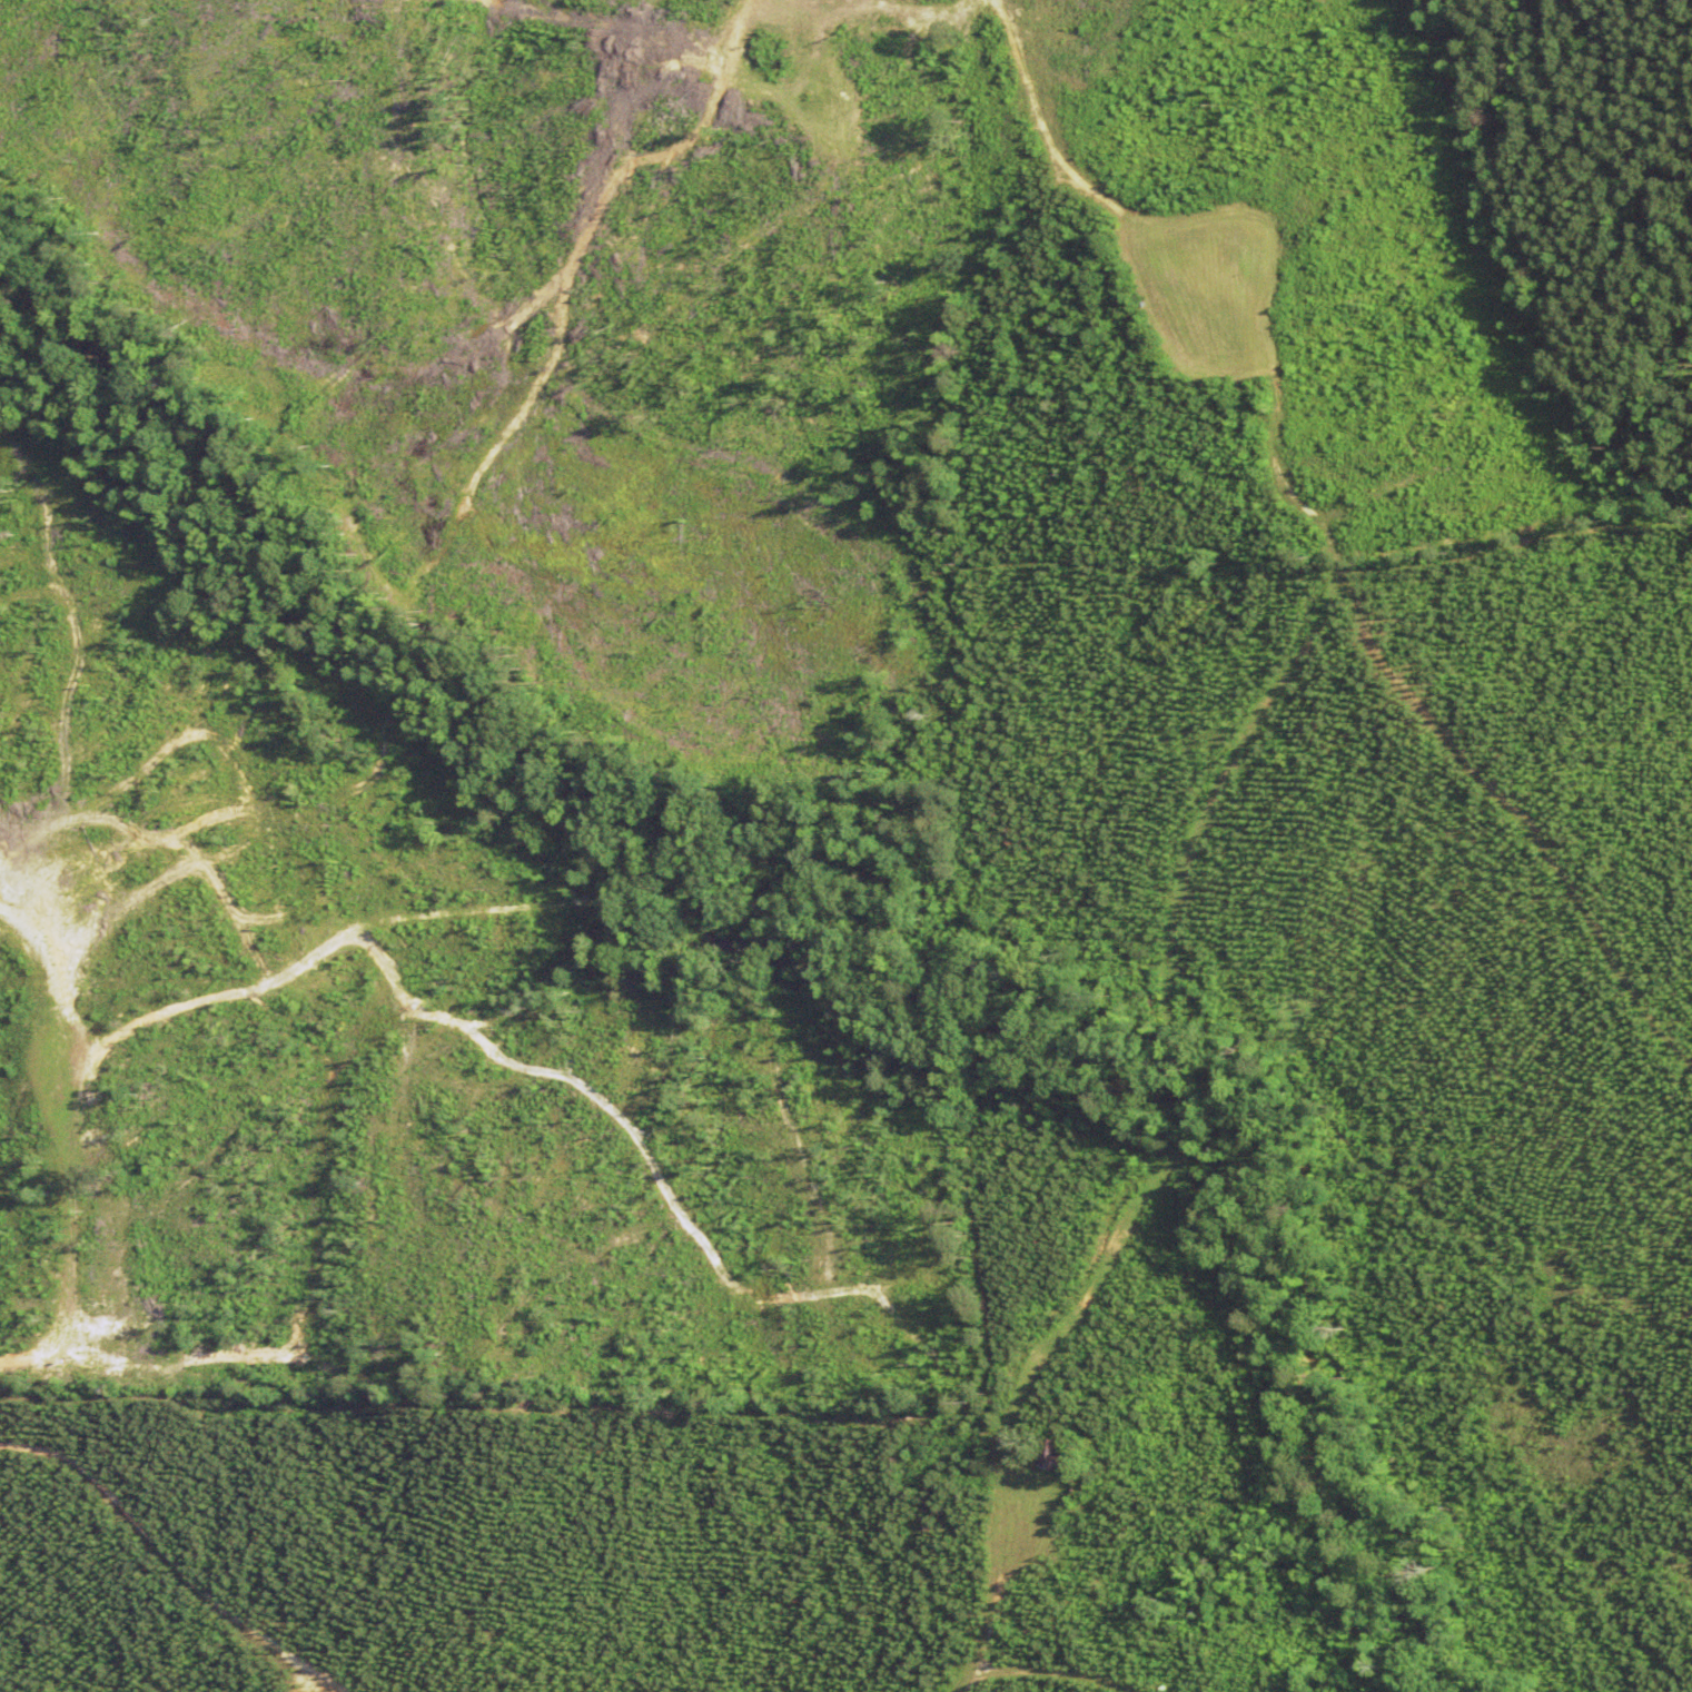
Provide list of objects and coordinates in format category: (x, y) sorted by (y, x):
road: (87, 1646)
road: (1019, 1673)

